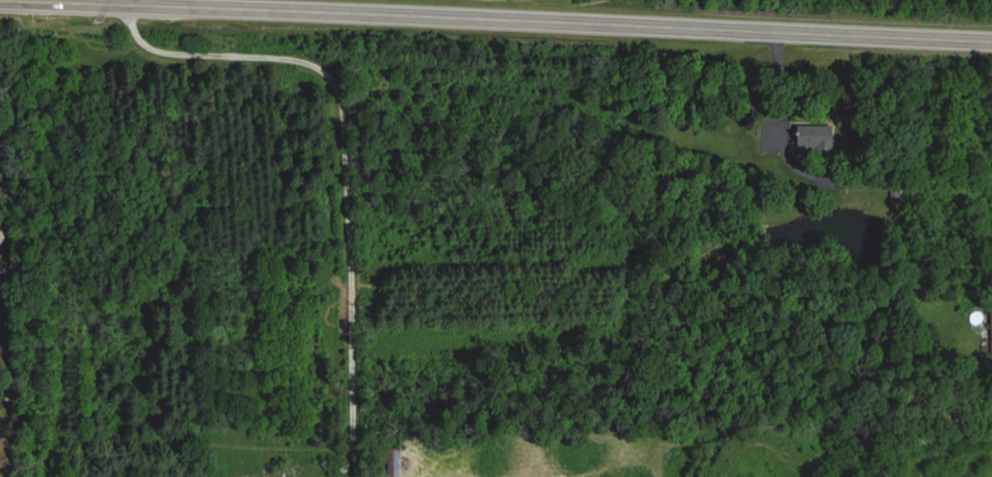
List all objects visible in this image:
road: (161, 3)
road: (498, 20)
building: (817, 136)
road: (348, 156)
building: (399, 463)

